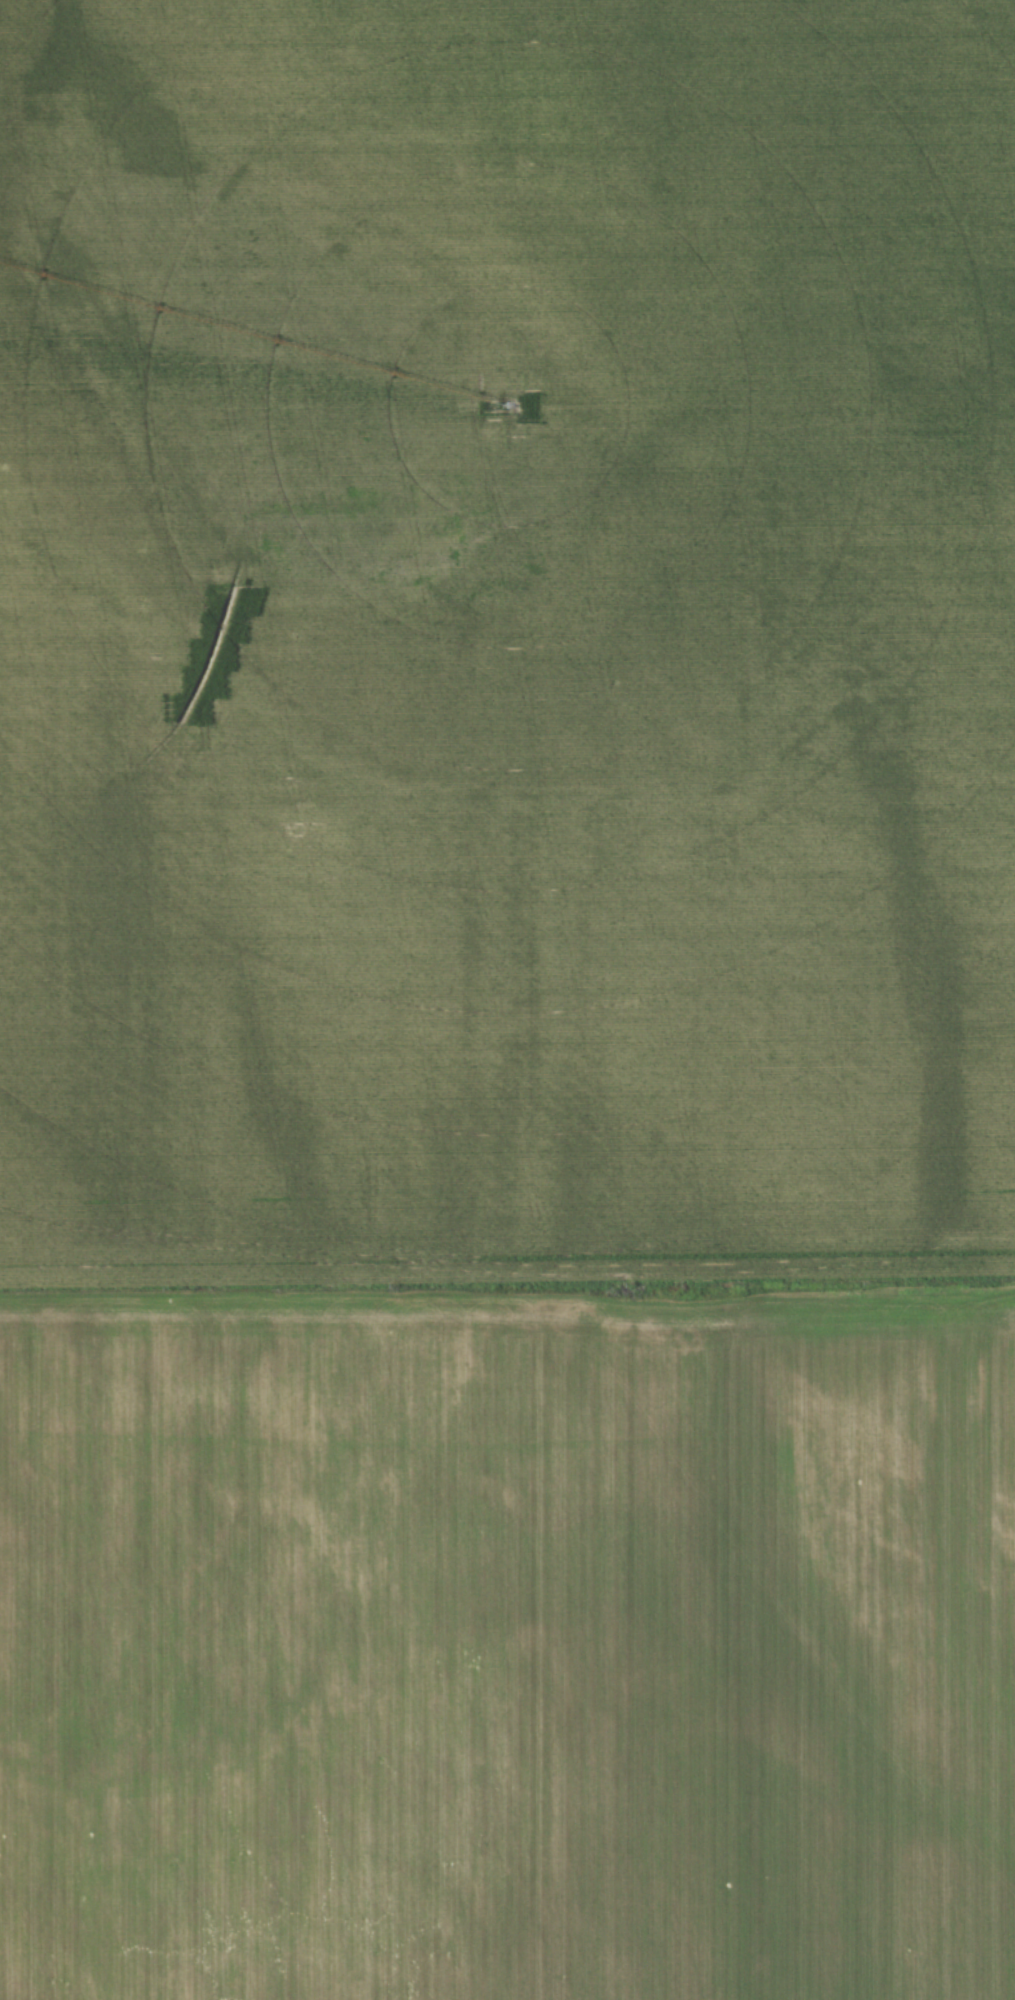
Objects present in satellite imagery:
crop: (507, 1000)

